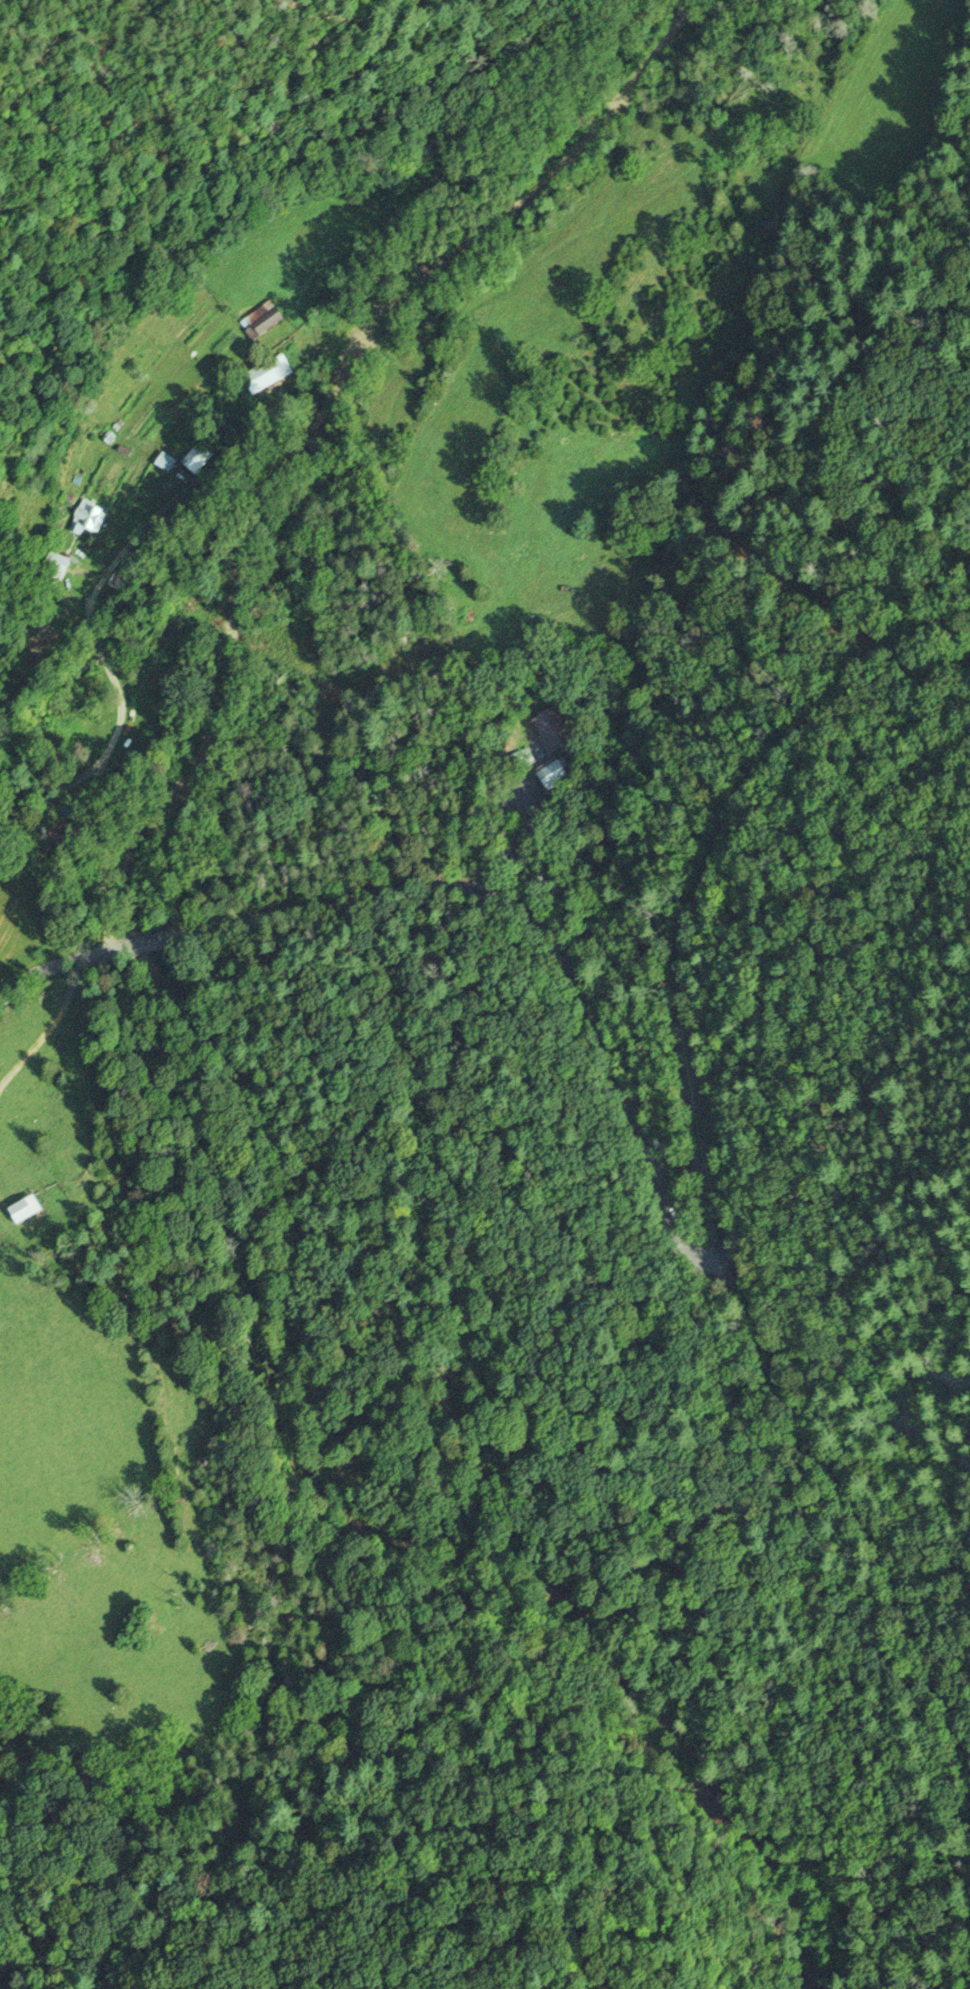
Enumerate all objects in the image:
building: (261, 319)
building: (266, 373)
building: (196, 457)
building: (164, 461)
building: (205, 501)
building: (87, 517)
building: (55, 565)
building: (119, 580)
road: (90, 616)
road: (101, 650)
building: (518, 758)
building: (553, 775)
road: (93, 797)
road: (57, 805)
road: (7, 809)
road: (448, 837)
road: (699, 884)
road: (150, 939)
road: (552, 939)
road: (59, 968)
building: (22, 1209)
road: (858, 1520)

